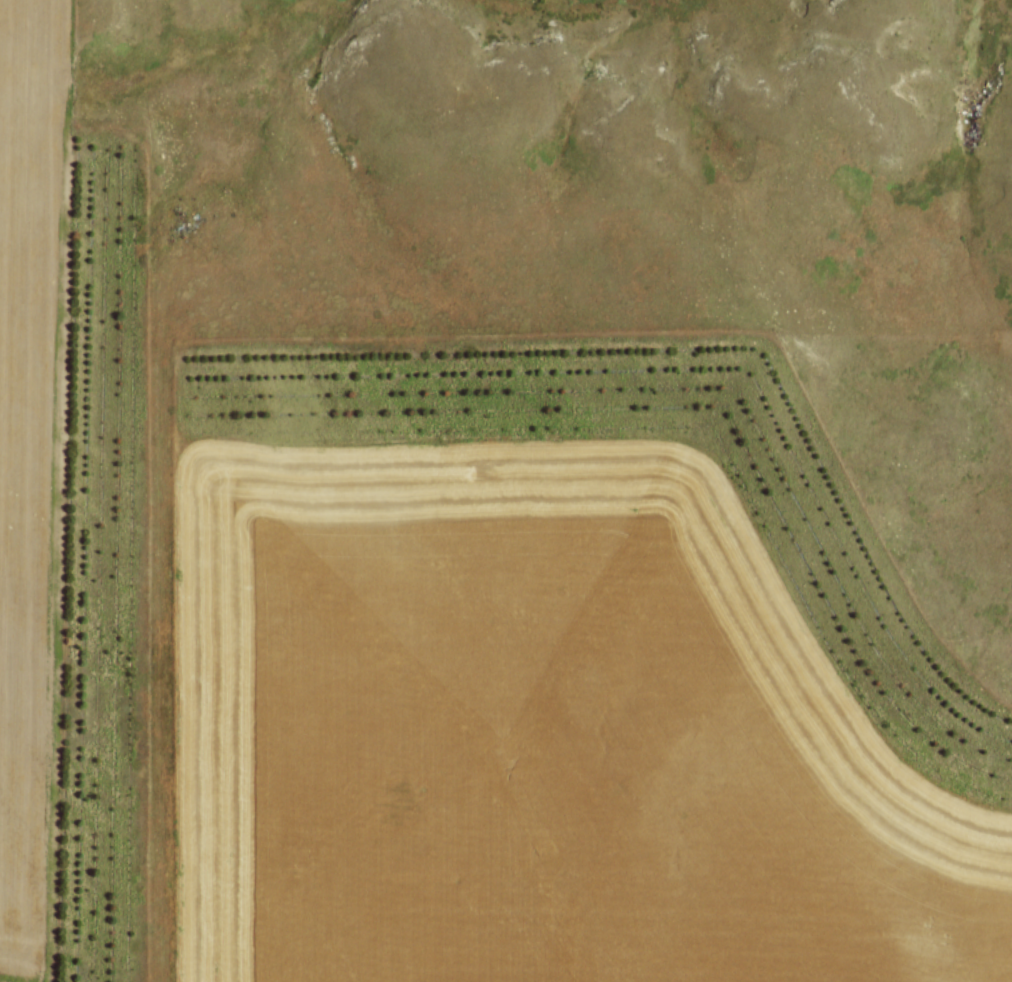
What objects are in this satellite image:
crop: (29, 468)
crop: (534, 733)

